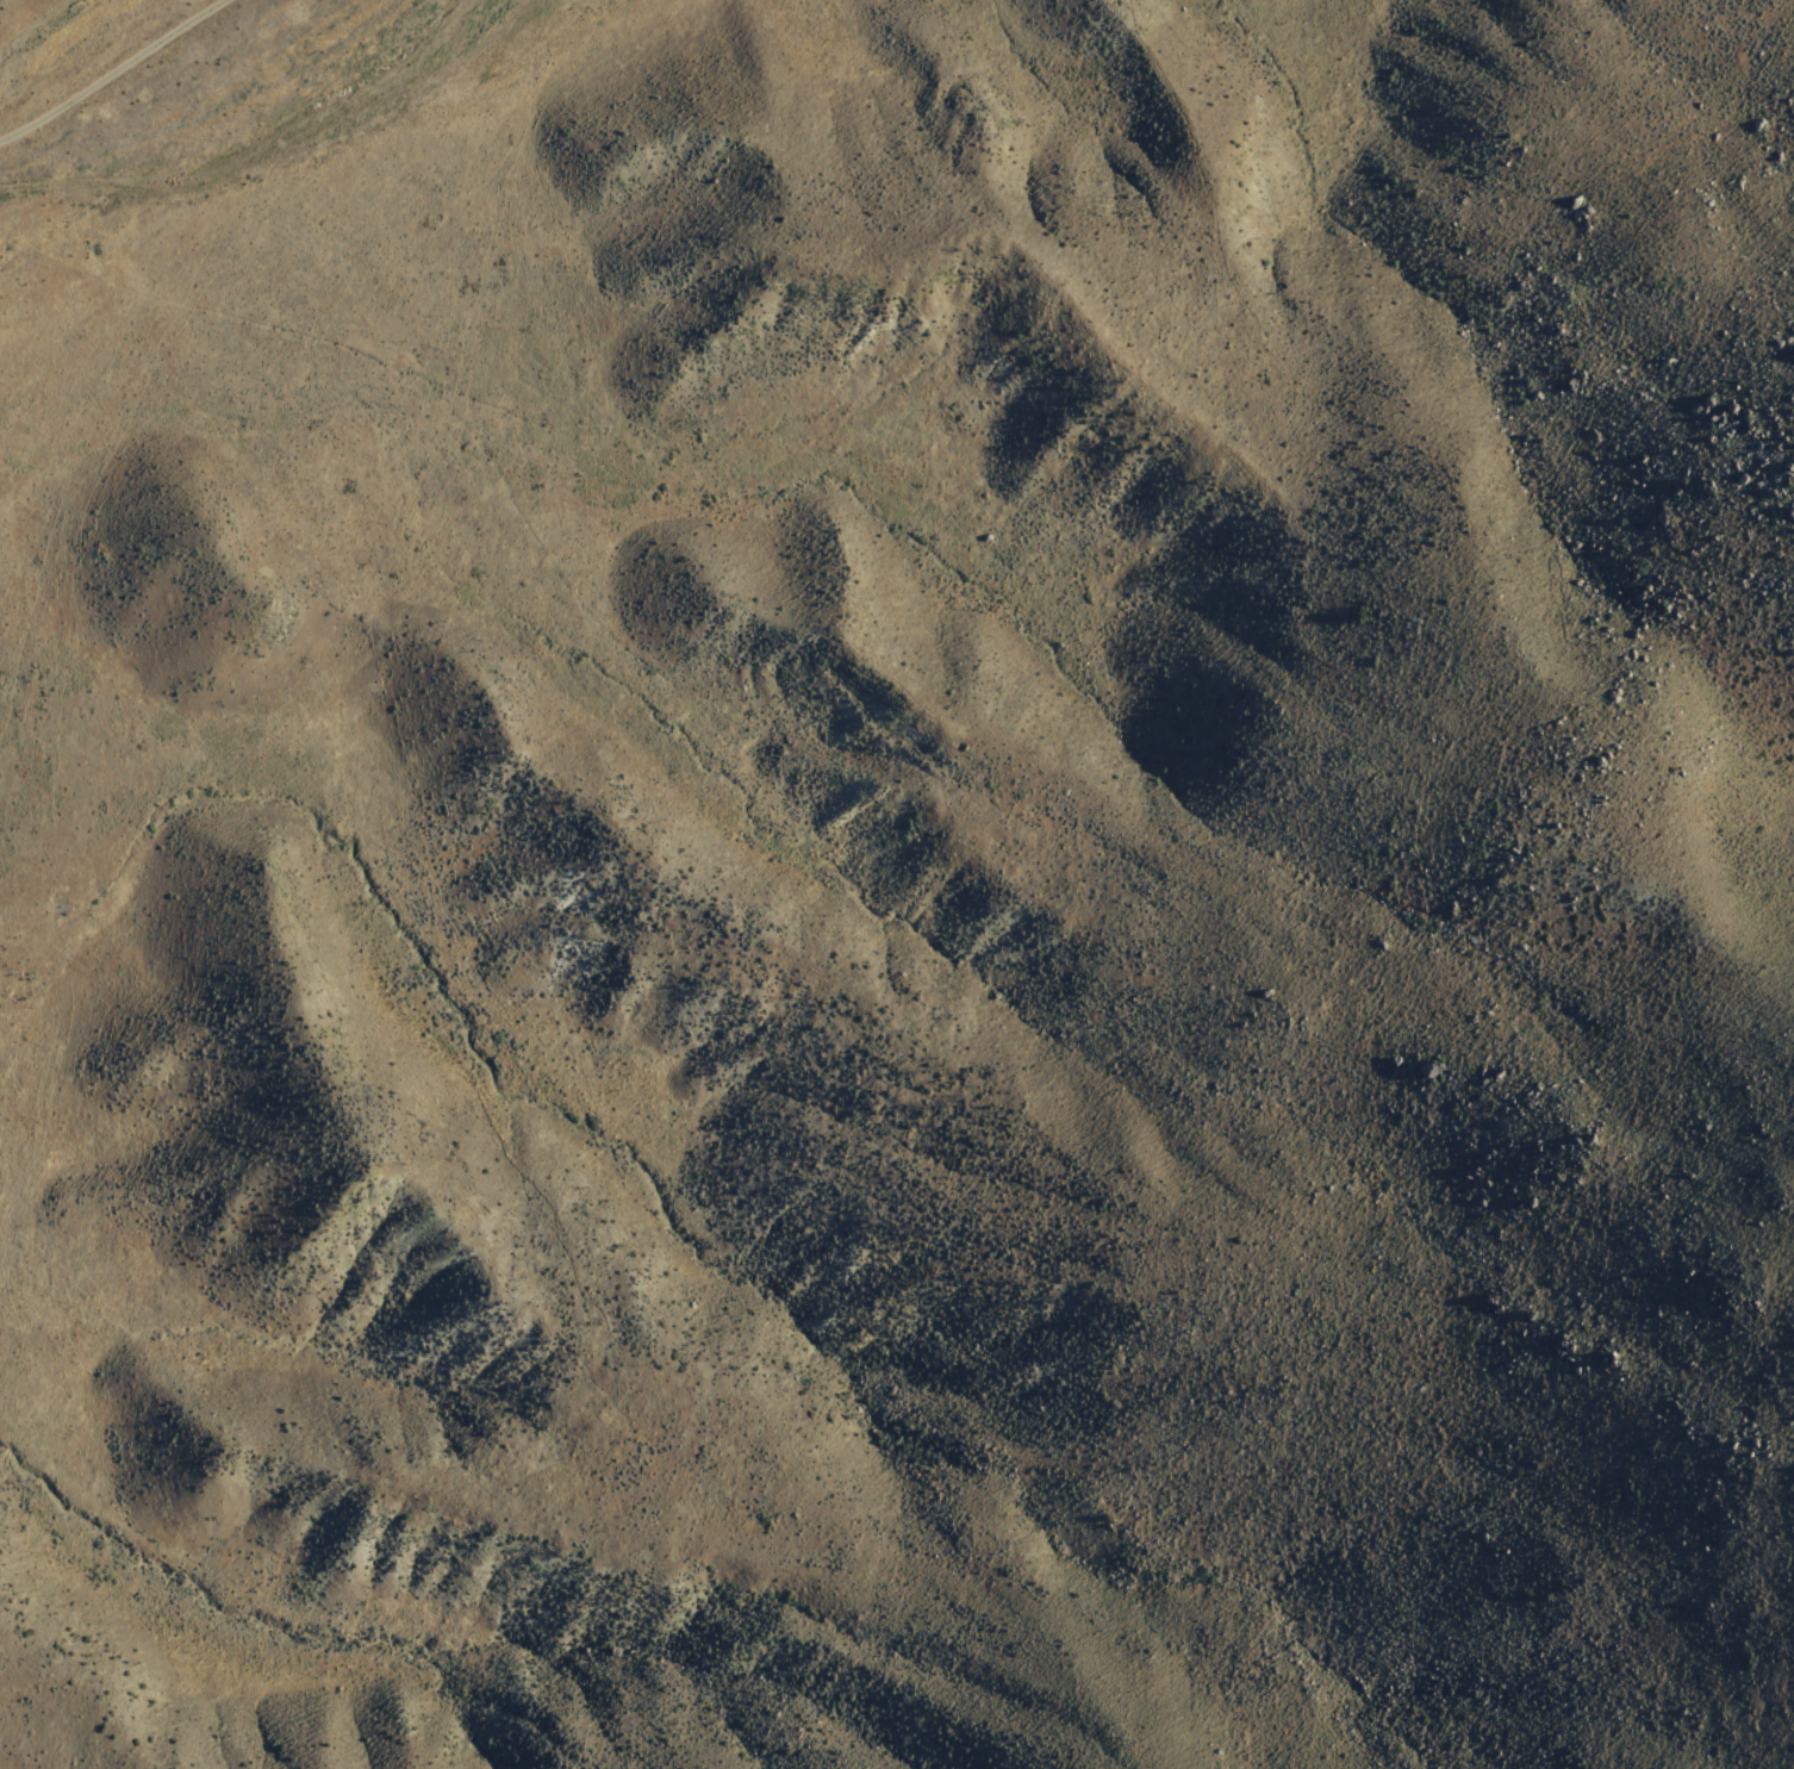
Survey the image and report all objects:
road: (242, 148)
crop: (430, 542)
crop: (131, 1553)

